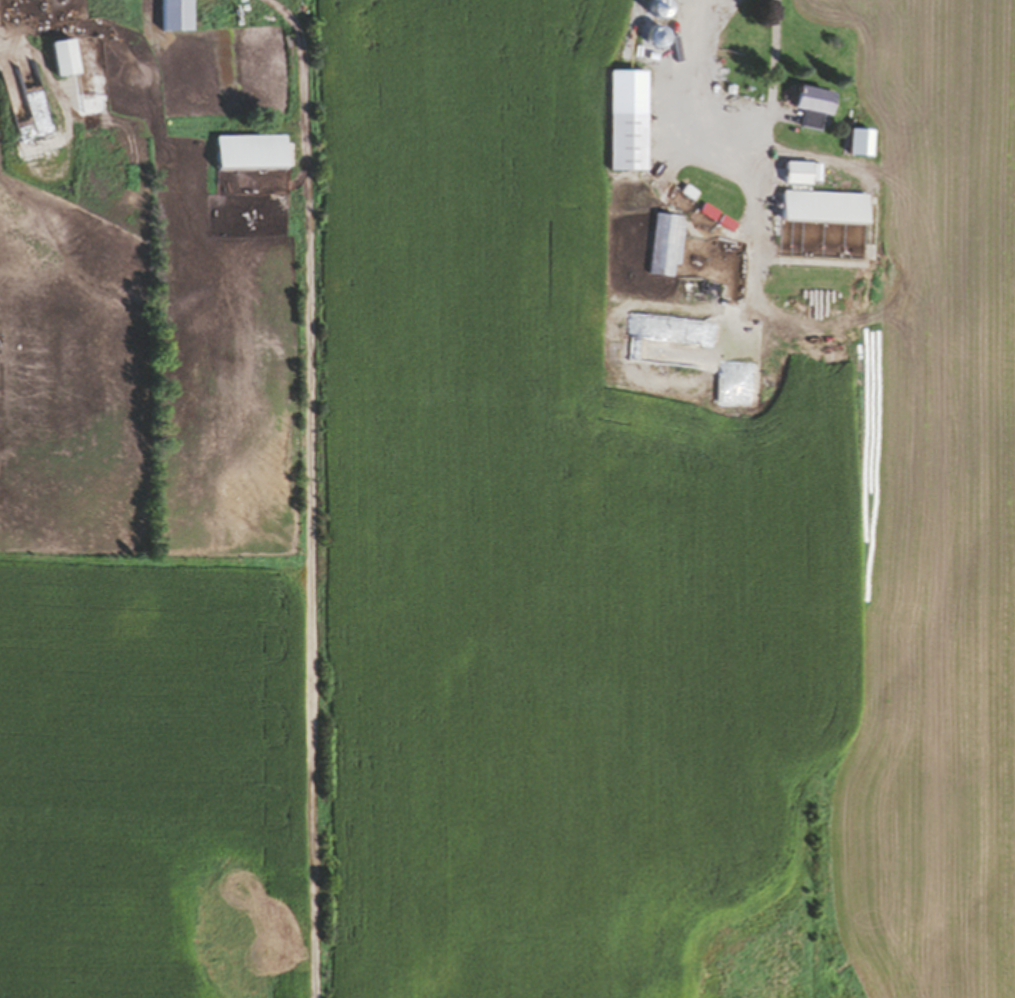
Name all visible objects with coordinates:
building: (173, 17)
building: (58, 61)
road: (741, 102)
building: (808, 108)
building: (624, 124)
building: (731, 129)
building: (701, 135)
building: (244, 156)
building: (720, 159)
building: (793, 177)
building: (820, 210)
building: (664, 248)

